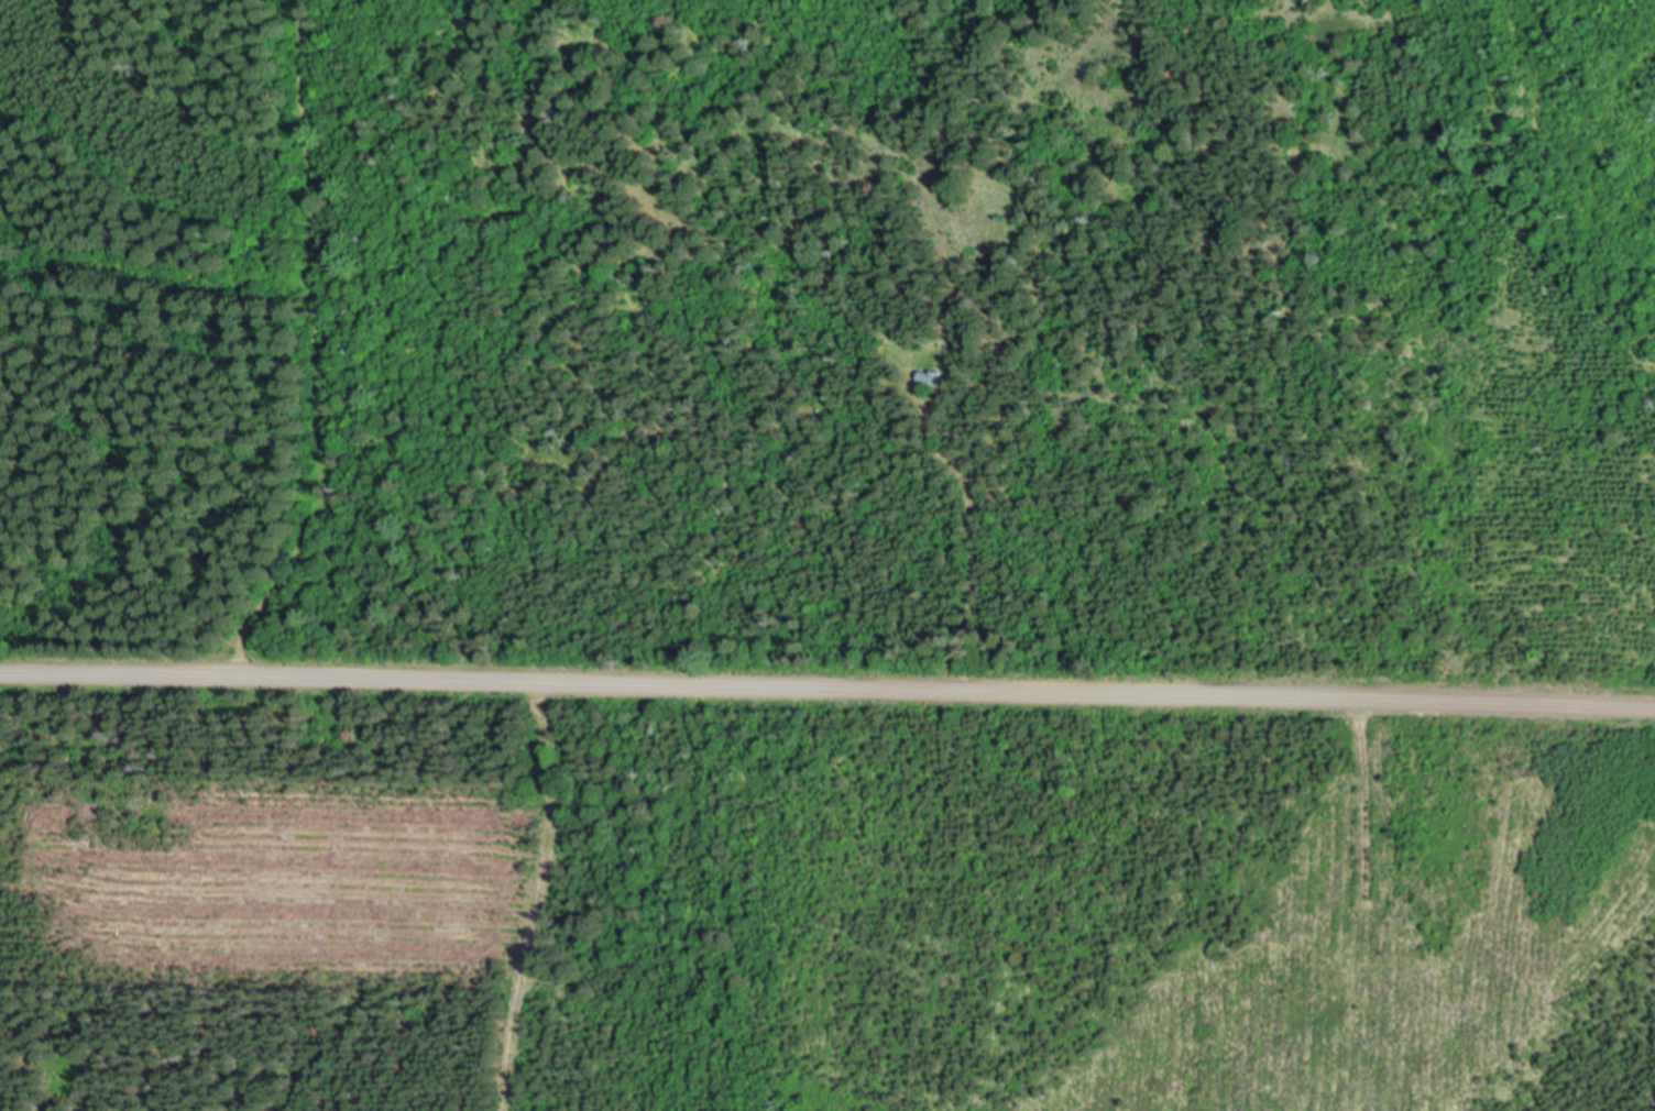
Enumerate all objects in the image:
road: (827, 691)

